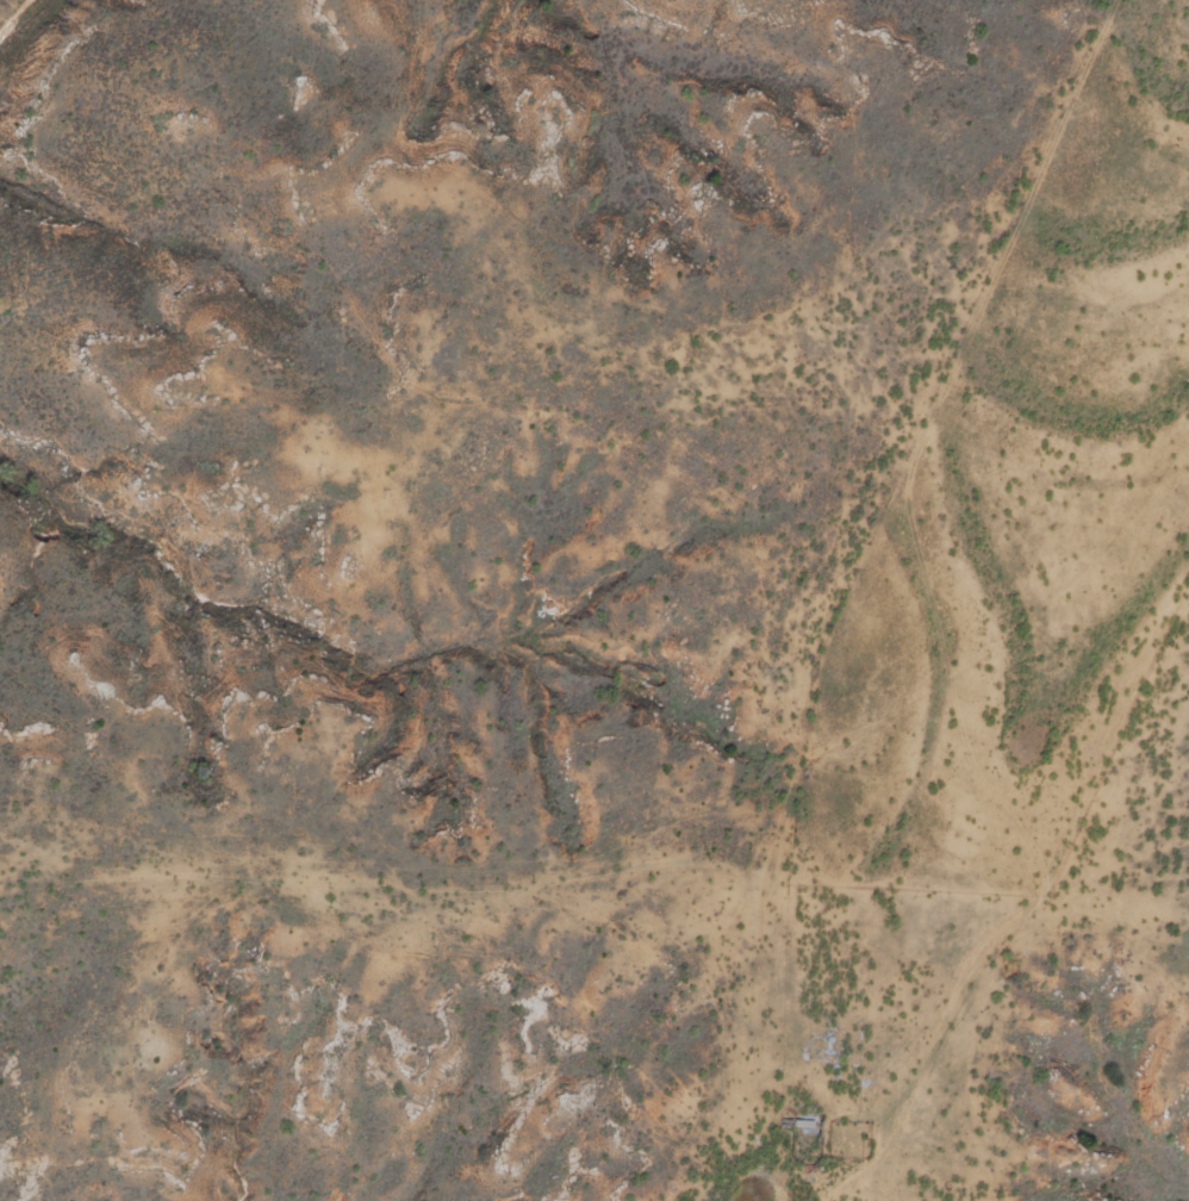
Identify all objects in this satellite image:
road: (577, 876)
building: (820, 1047)

